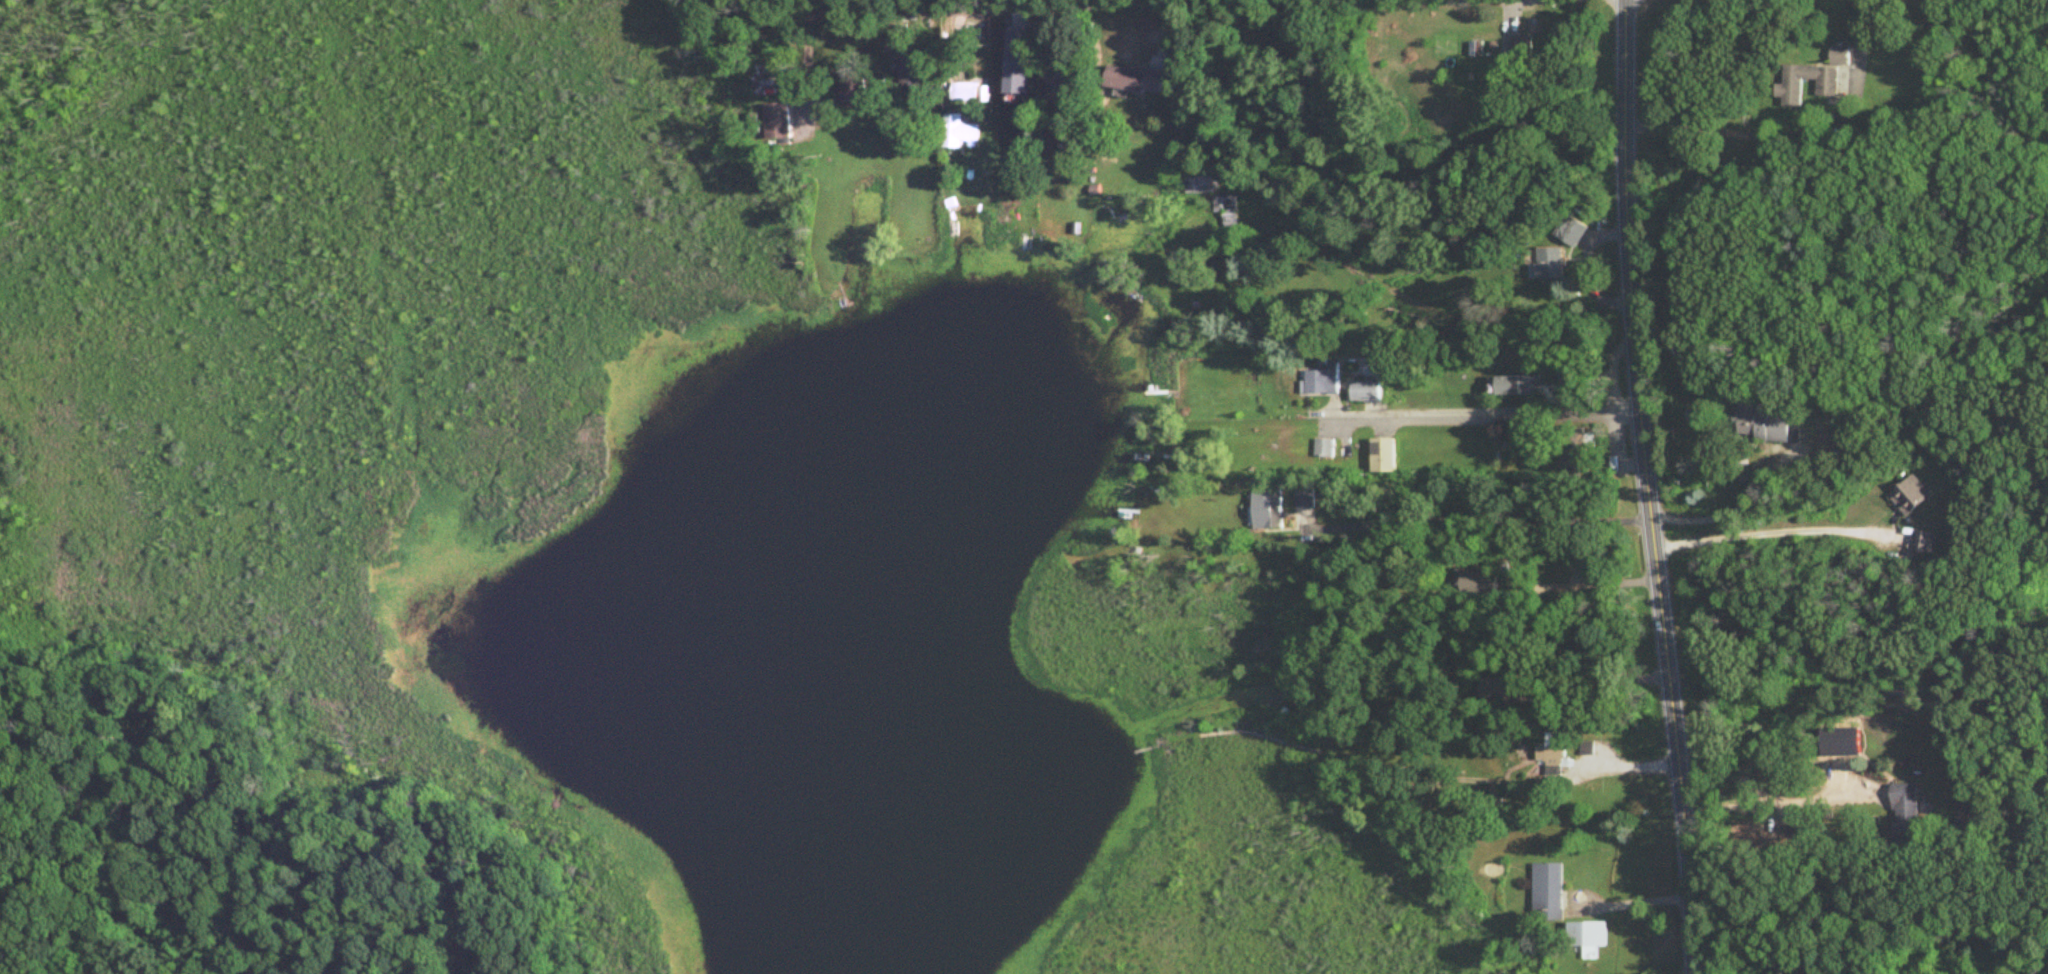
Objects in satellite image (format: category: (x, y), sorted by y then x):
building: (1068, 27)
building: (1840, 56)
building: (1517, 64)
building: (913, 76)
building: (1067, 79)
building: (1137, 80)
building: (852, 86)
building: (1789, 90)
building: (967, 92)
building: (777, 122)
road: (1719, 131)
building: (958, 132)
road: (1324, 151)
building: (1202, 185)
building: (1227, 209)
building: (1551, 265)
building: (1374, 368)
road: (1637, 379)
building: (1324, 381)
building: (1517, 386)
building: (1367, 392)
road: (1478, 414)
building: (1765, 424)
building: (1579, 448)
building: (1385, 455)
building: (1911, 495)
building: (1268, 510)
road: (1476, 521)
road: (1762, 534)
building: (1435, 589)
building: (1520, 613)
building: (1507, 690)
building: (1554, 750)
road: (1620, 760)
building: (1904, 799)
road: (1770, 802)
building: (1909, 832)
road: (1685, 865)
building: (1548, 892)
road: (1631, 900)
building: (1589, 937)

